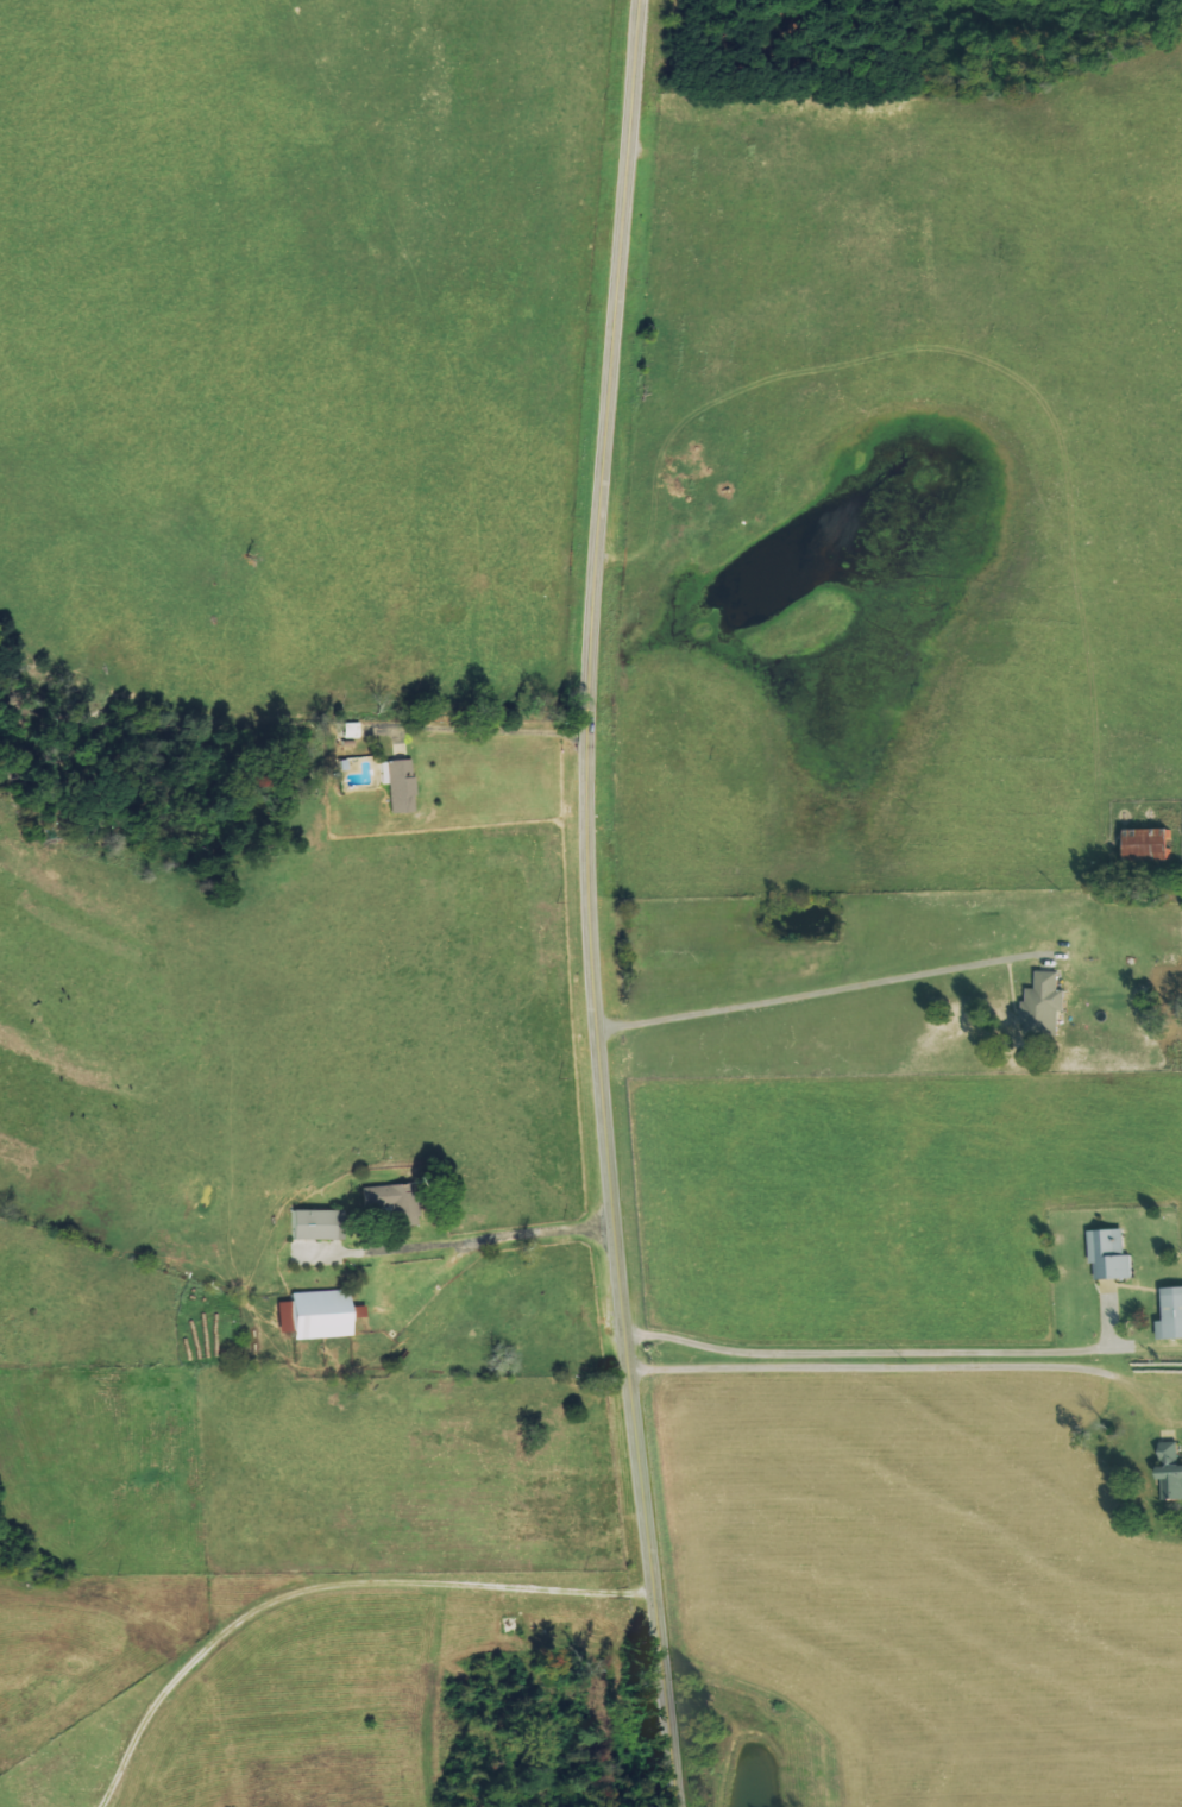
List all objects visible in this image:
building: (400, 783)
building: (1155, 844)
road: (599, 905)
road: (811, 1001)
building: (1054, 1008)
building: (395, 1202)
building: (316, 1224)
building: (1114, 1253)
building: (317, 1315)
building: (1174, 1315)
building: (1174, 1469)

